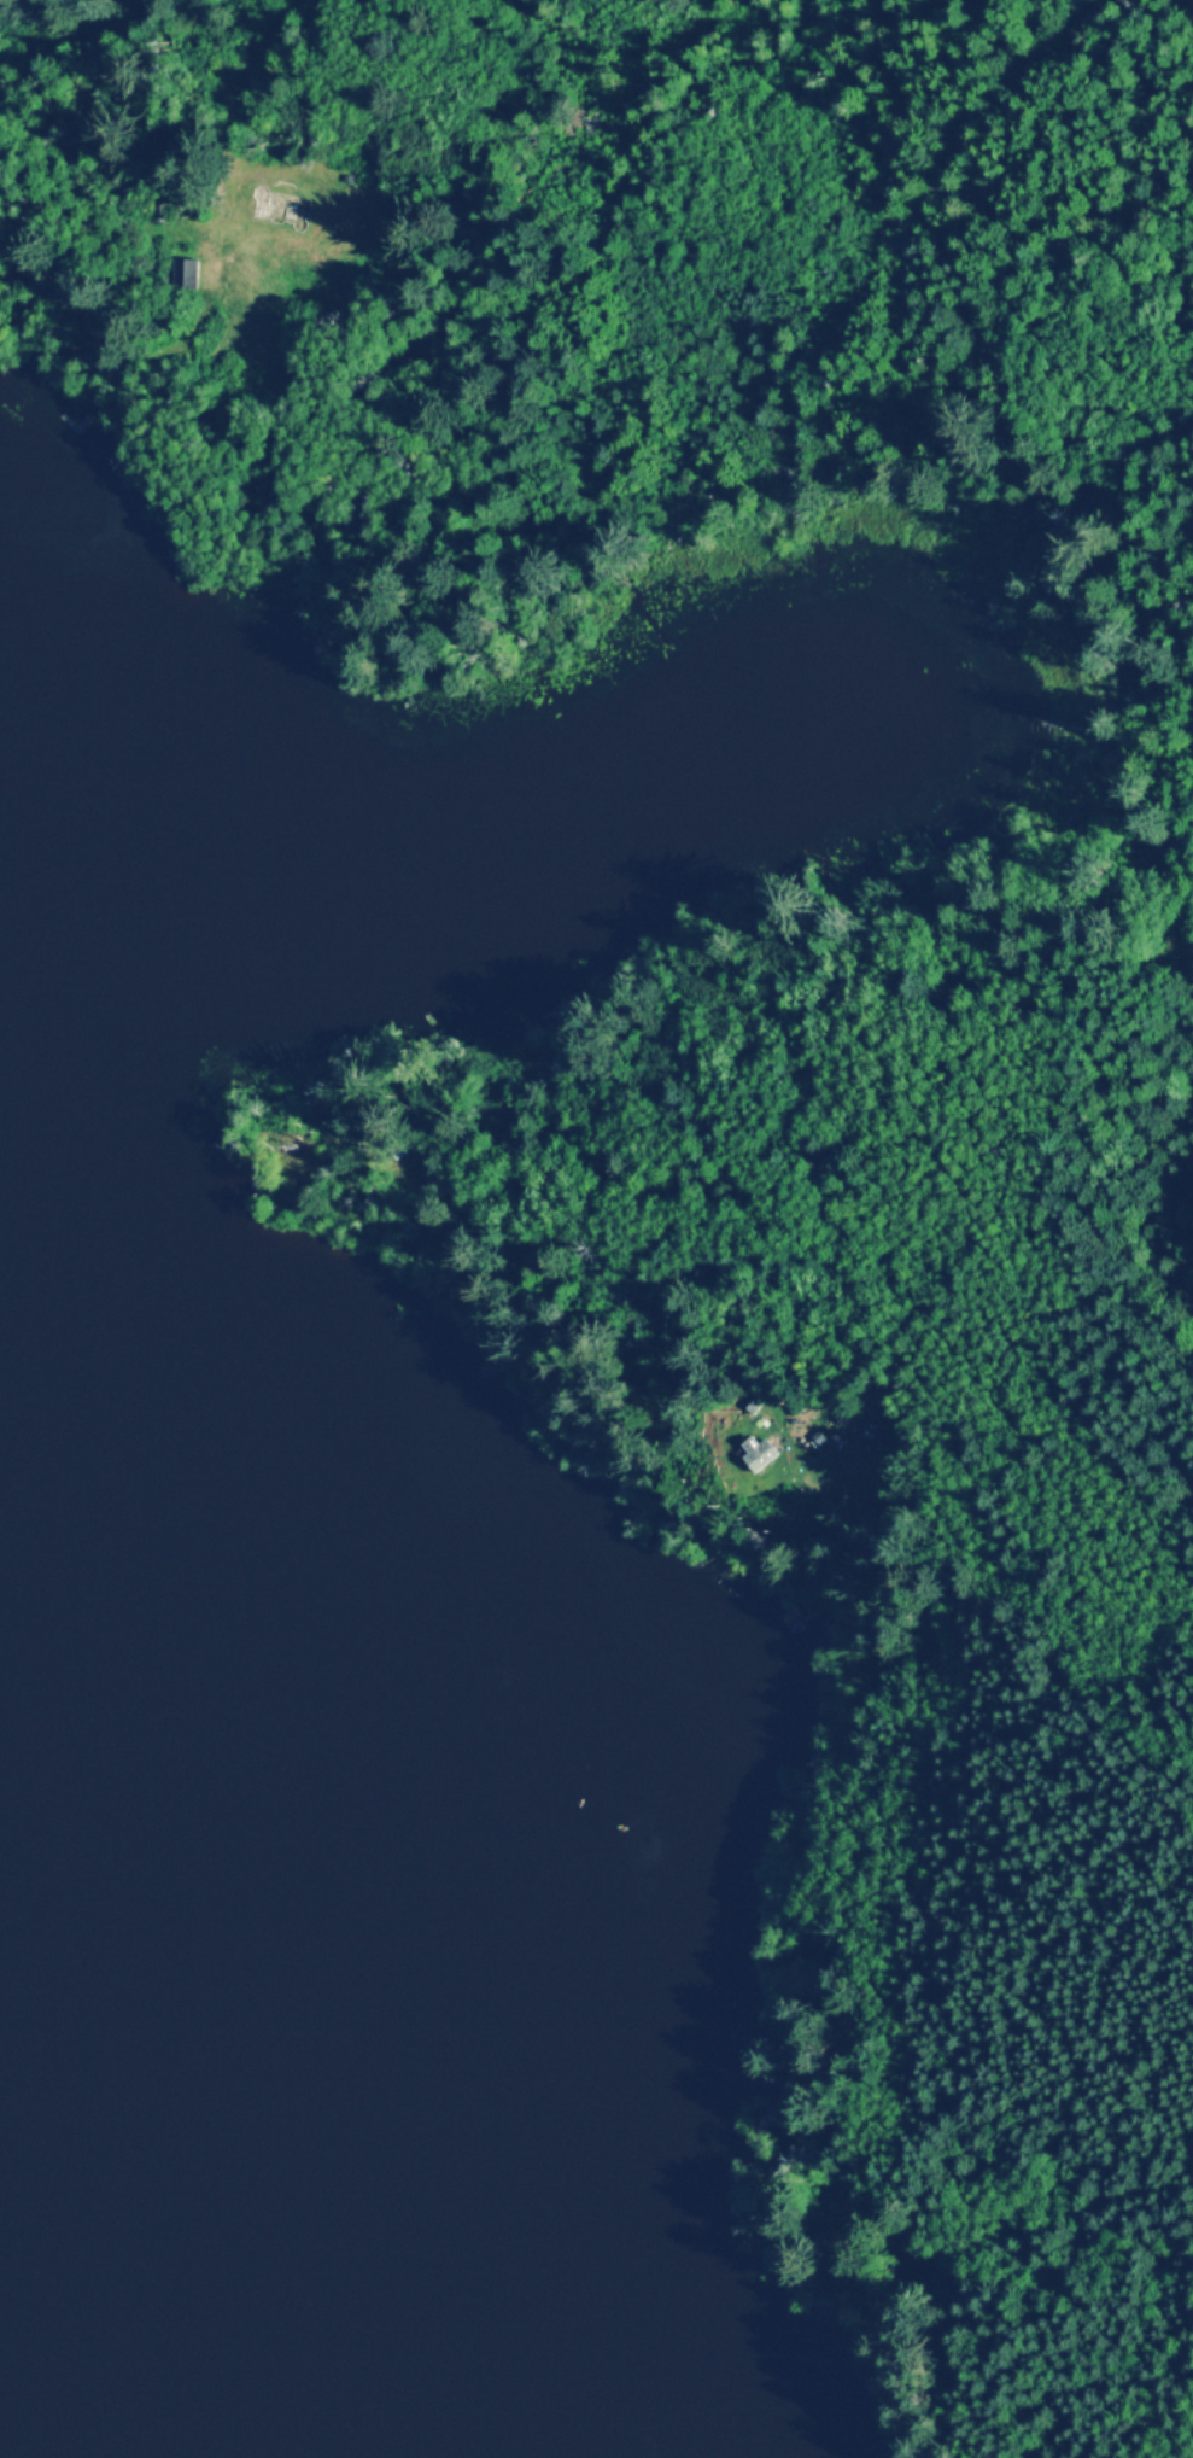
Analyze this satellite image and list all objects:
road: (277, 57)
building: (281, 206)
building: (186, 275)
road: (916, 1201)
building: (867, 1434)
building: (756, 1454)

